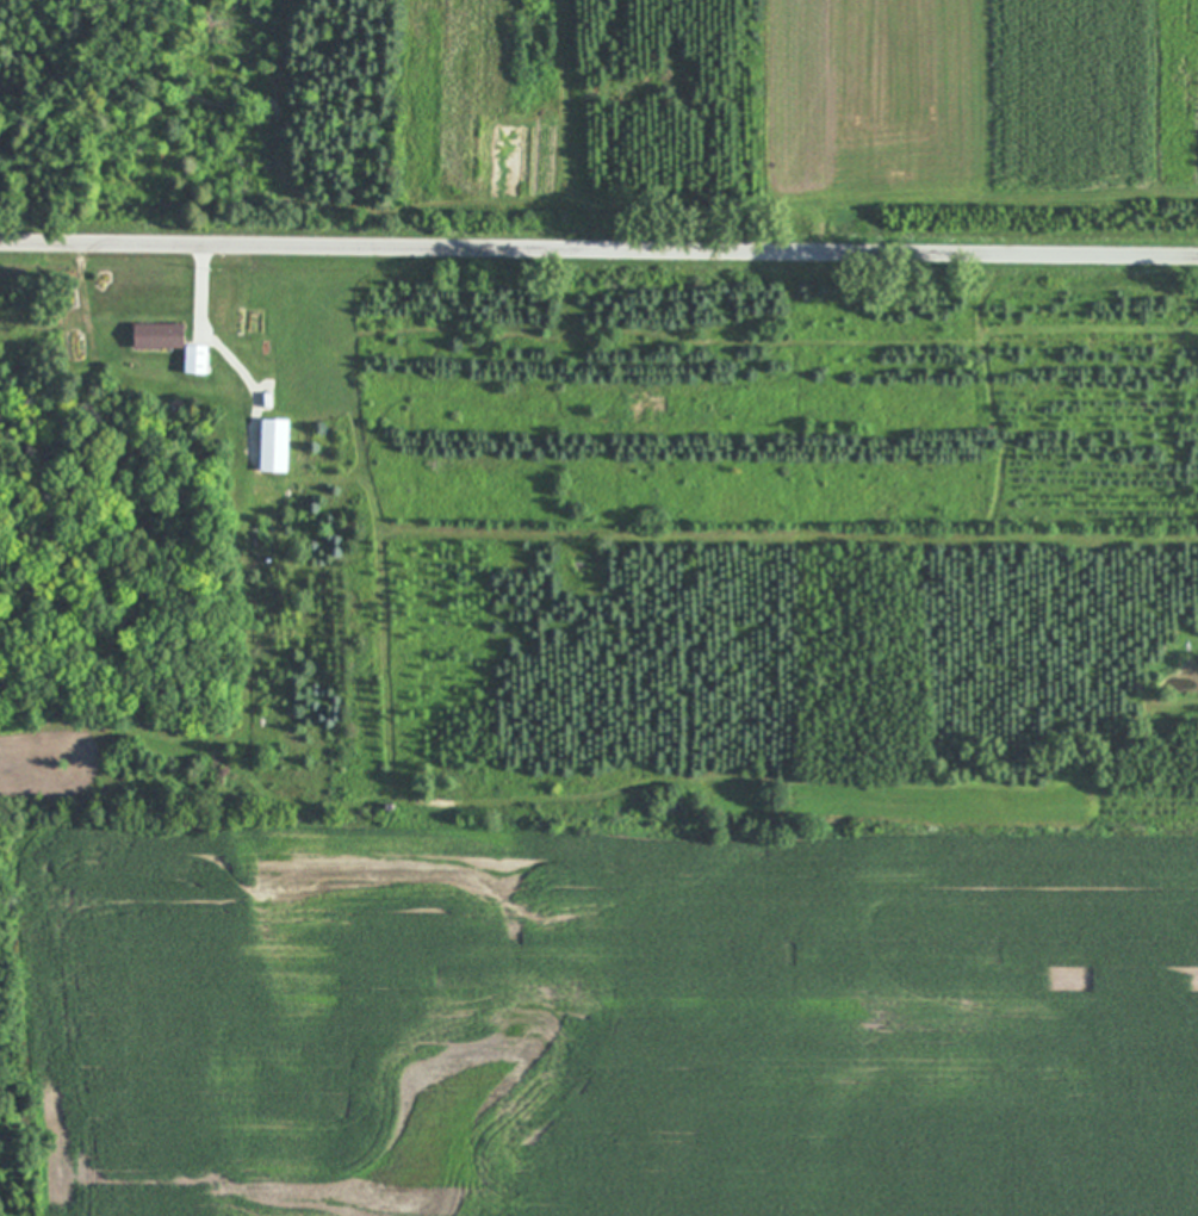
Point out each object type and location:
road: (598, 249)
road: (201, 286)
building: (160, 335)
building: (197, 359)
building: (275, 445)

